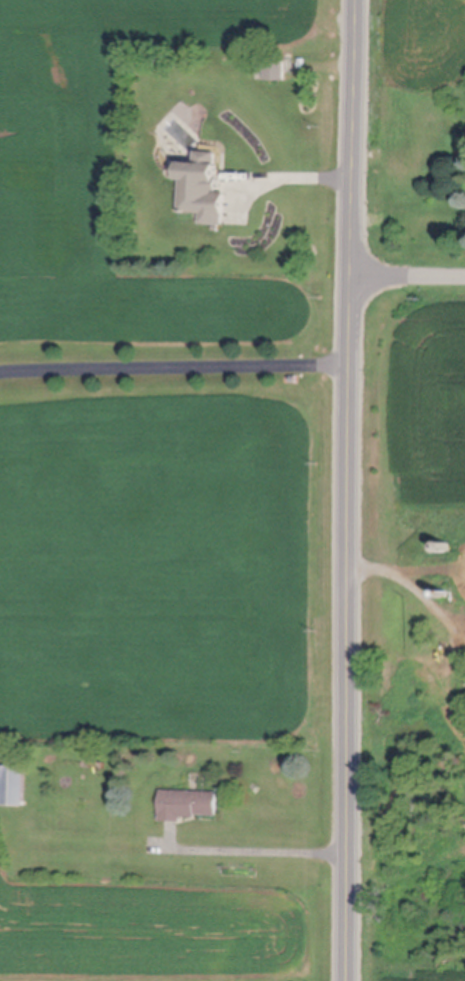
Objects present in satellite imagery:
building: (275, 70)
road: (297, 175)
building: (205, 190)
road: (408, 277)
road: (175, 360)
road: (351, 490)
building: (449, 548)
road: (412, 592)
building: (446, 597)
building: (14, 787)
building: (187, 806)
road: (257, 847)

